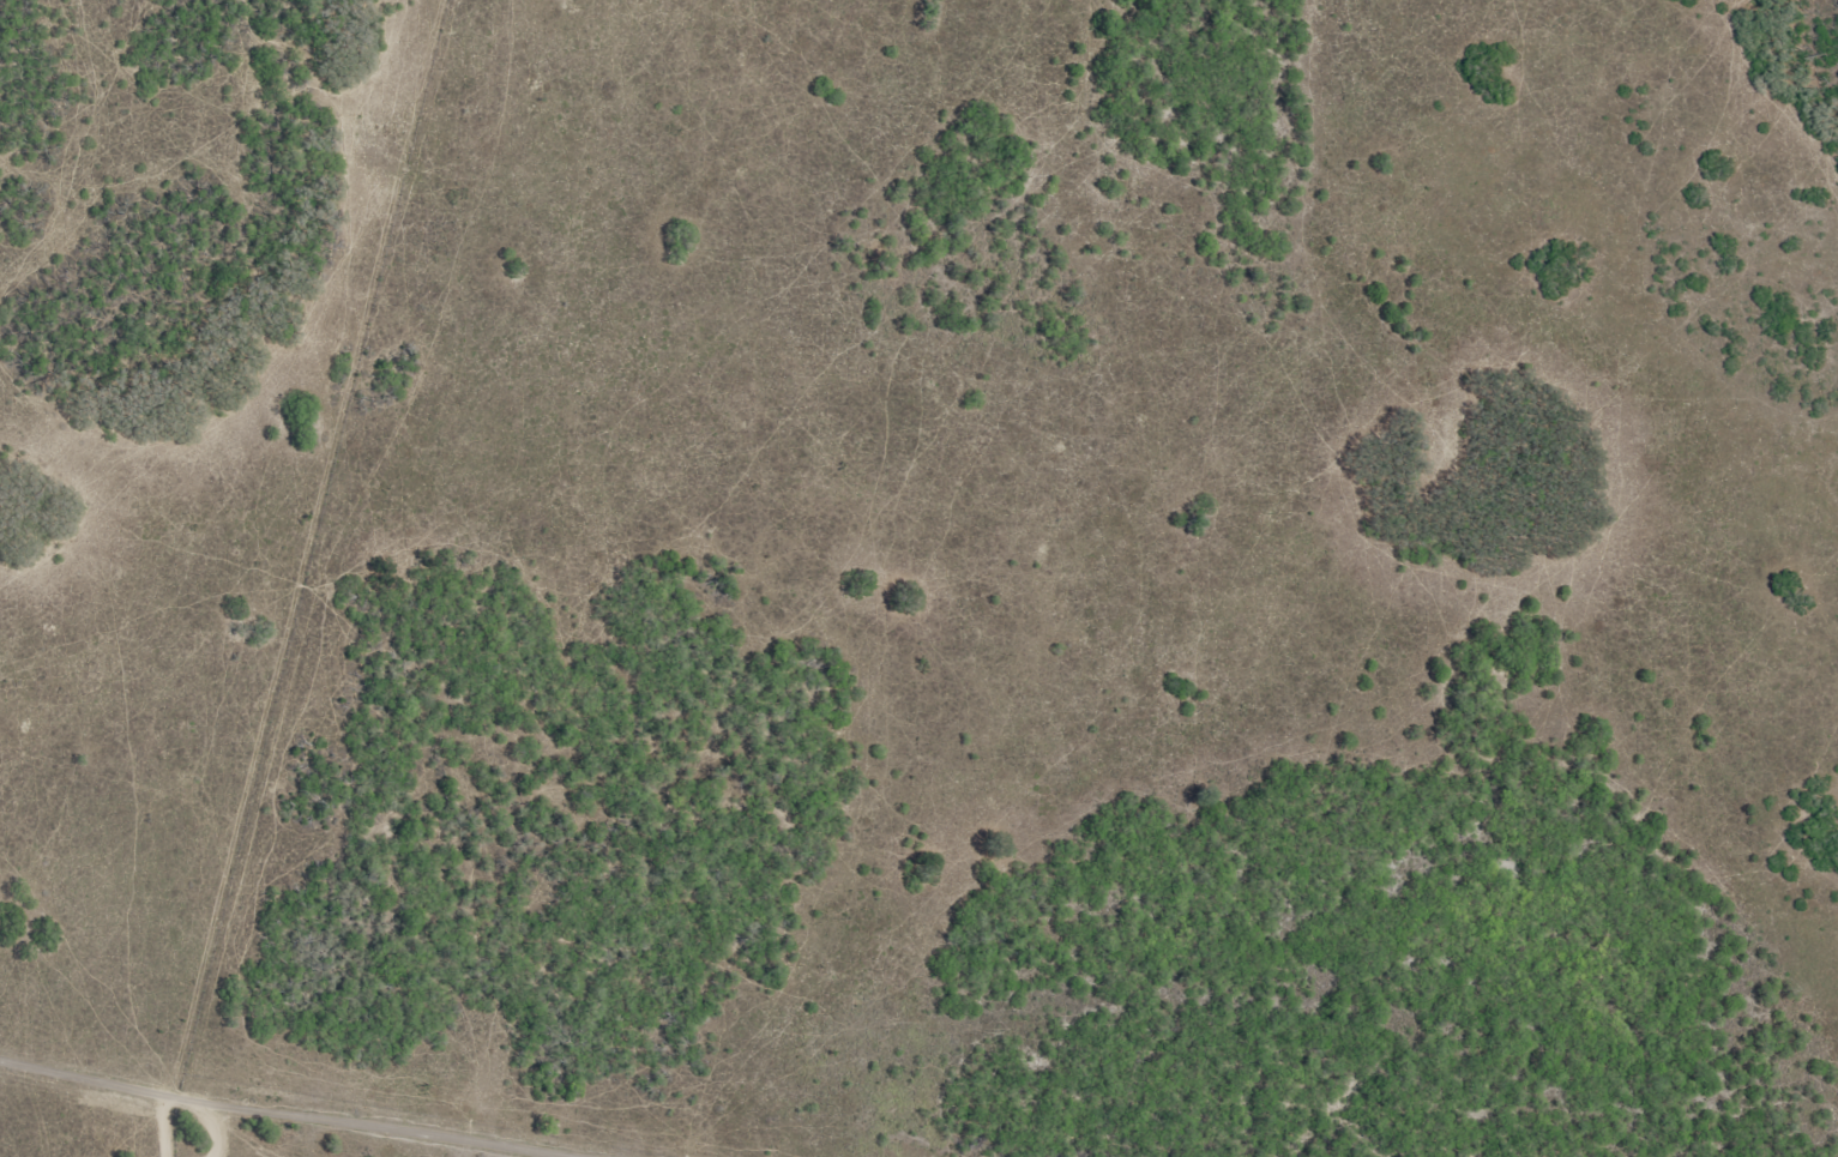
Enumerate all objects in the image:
road: (299, 1104)
road: (19, 1108)

